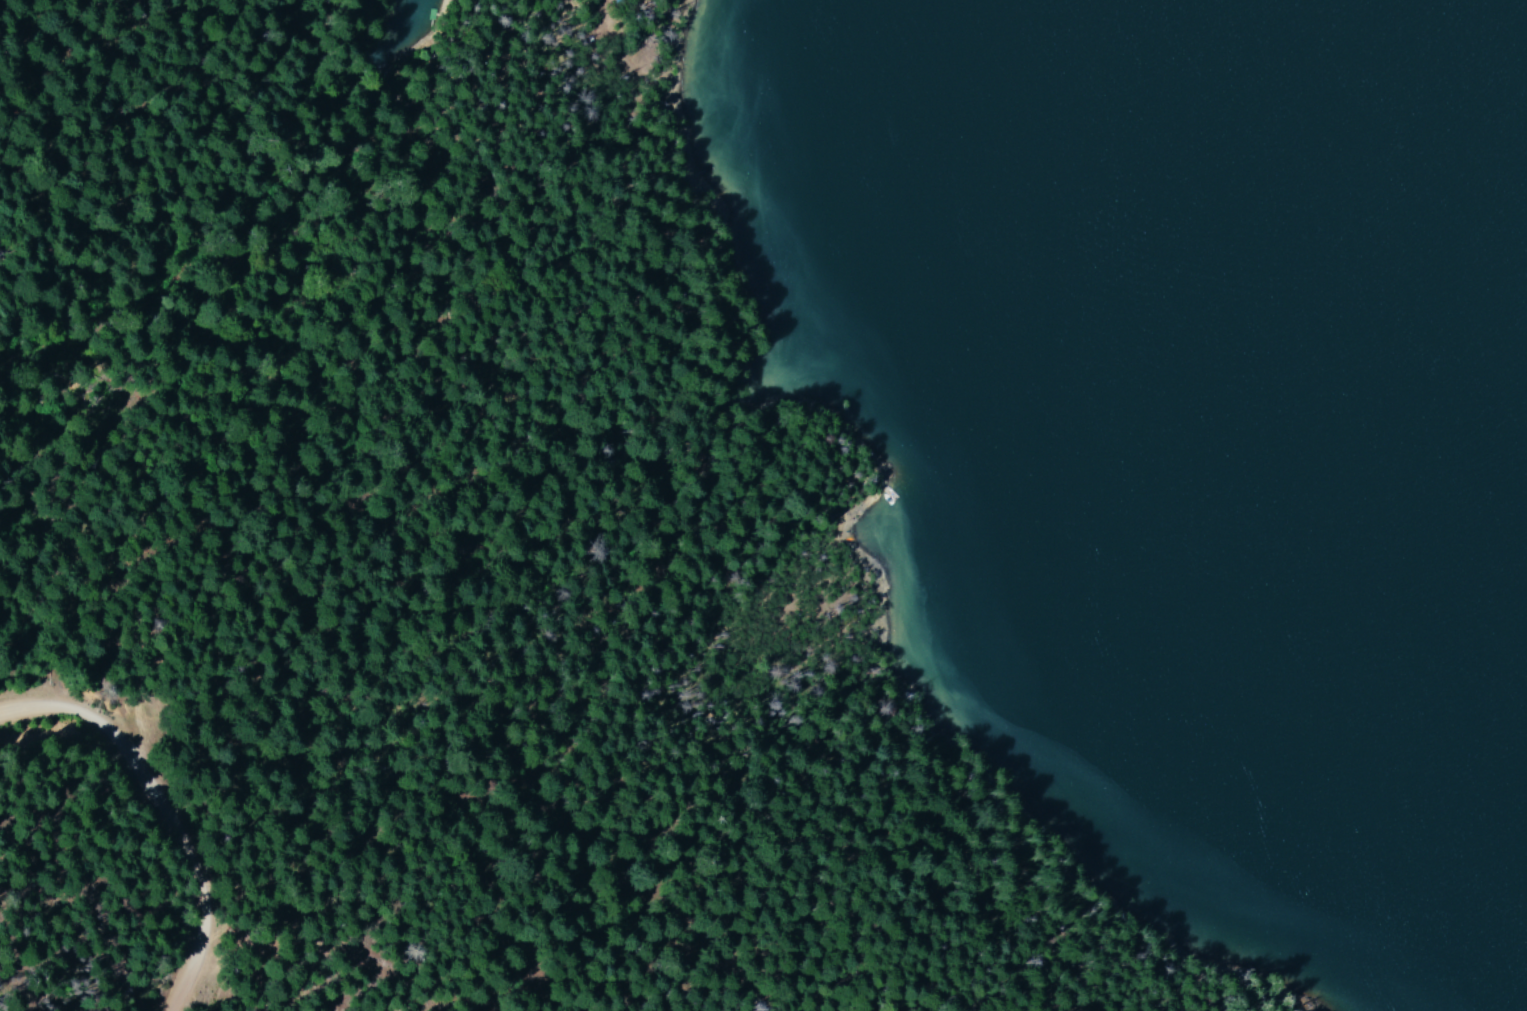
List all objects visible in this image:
river: (1346, 195)
road: (192, 805)

